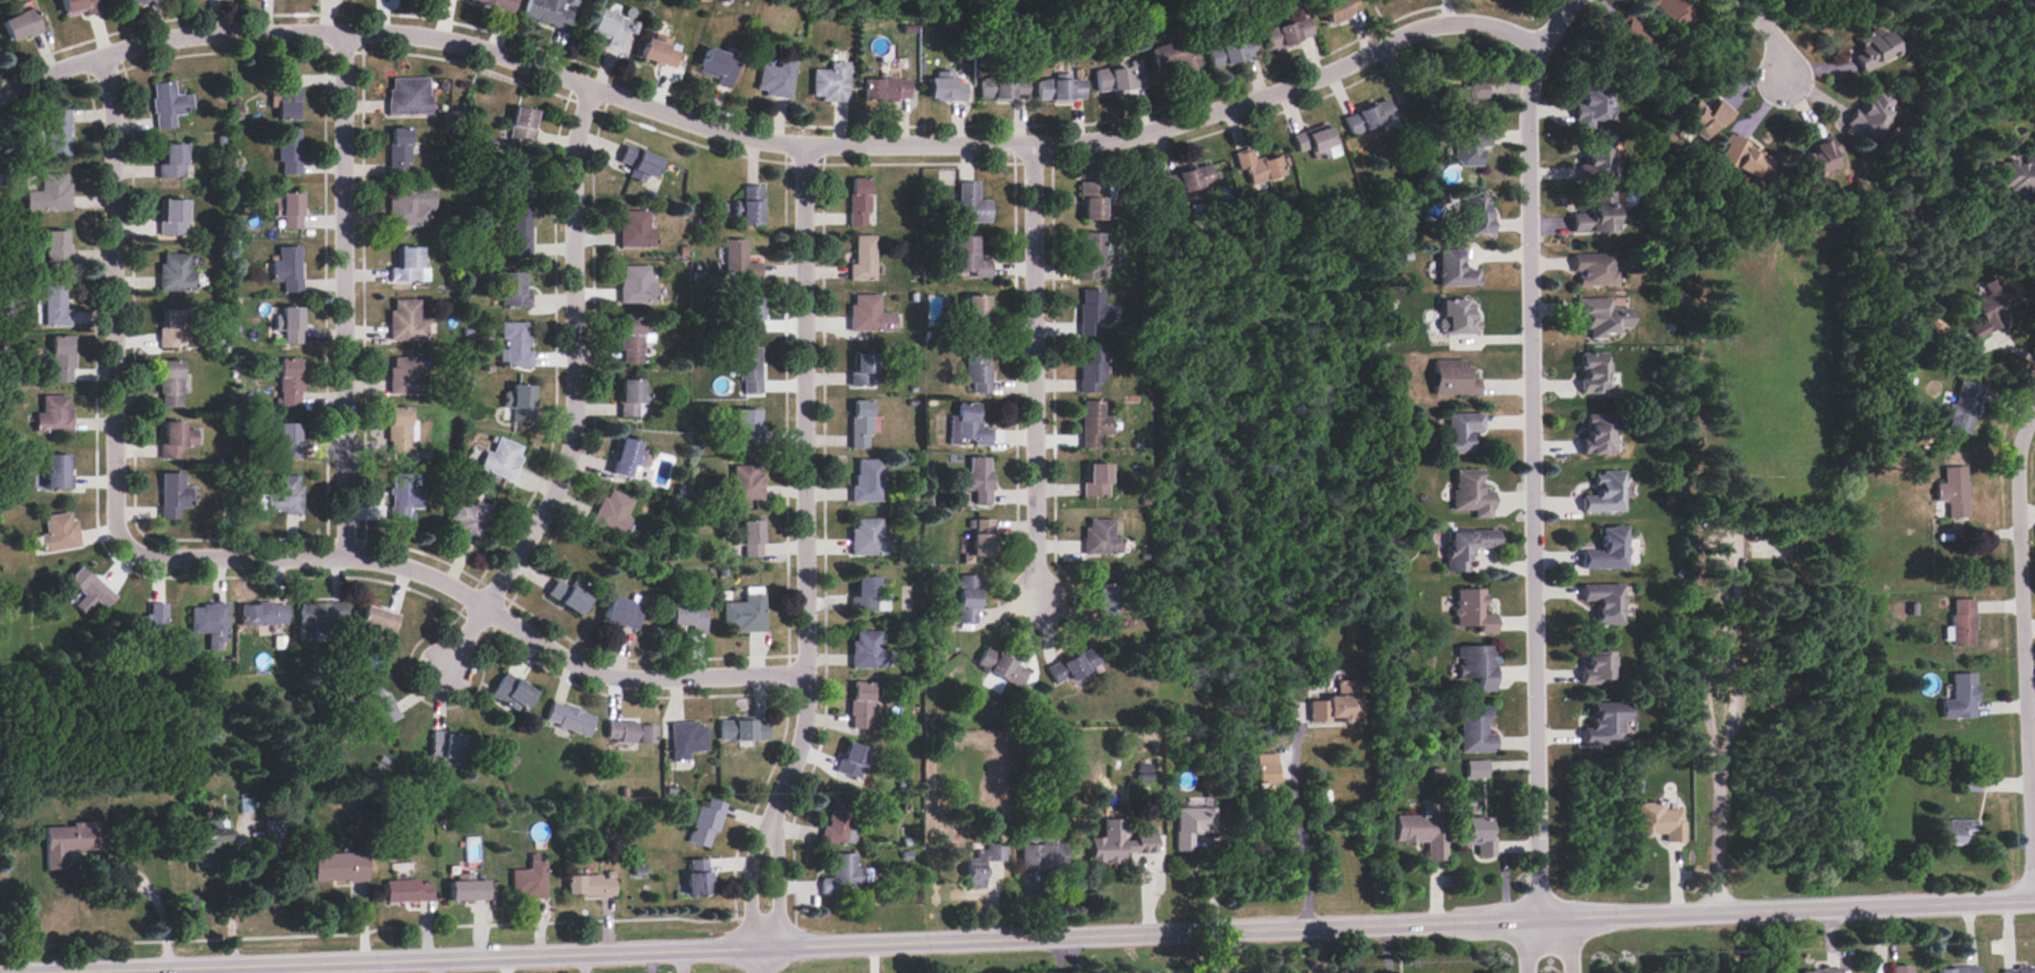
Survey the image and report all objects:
building: (130, 2)
building: (495, 4)
building: (78, 7)
building: (1337, 9)
building: (545, 13)
building: (1676, 13)
building: (20, 26)
road: (2026, 26)
building: (608, 29)
building: (1286, 34)
building: (1632, 36)
road: (1770, 37)
building: (1873, 49)
building: (658, 53)
building: (1231, 53)
building: (1174, 60)
building: (717, 65)
building: (775, 80)
building: (1115, 81)
building: (830, 84)
building: (1005, 87)
building: (944, 89)
building: (886, 90)
building: (1060, 90)
building: (408, 96)
building: (287, 97)
building: (1462, 97)
building: (164, 103)
building: (1591, 104)
building: (1868, 114)
building: (1370, 118)
building: (1704, 120)
building: (520, 124)
building: (58, 134)
building: (1314, 142)
road: (798, 145)
building: (1468, 146)
building: (288, 152)
building: (398, 152)
building: (1742, 158)
building: (1817, 158)
building: (171, 162)
building: (1596, 162)
building: (638, 164)
building: (1259, 169)
building: (2018, 174)
building: (1189, 181)
building: (512, 182)
building: (49, 194)
building: (859, 202)
building: (1092, 202)
building: (972, 205)
building: (750, 206)
building: (285, 207)
building: (411, 208)
building: (1596, 215)
building: (1474, 216)
building: (172, 218)
building: (635, 230)
building: (519, 234)
building: (55, 247)
building: (1091, 257)
building: (969, 258)
building: (863, 259)
building: (738, 262)
building: (407, 266)
building: (286, 269)
building: (1454, 269)
building: (1594, 271)
building: (174, 273)
building: (636, 286)
building: (512, 291)
road: (344, 295)
building: (55, 305)
building: (1992, 308)
building: (1092, 313)
building: (868, 315)
building: (751, 316)
building: (976, 316)
building: (1458, 317)
building: (1603, 318)
building: (405, 321)
building: (288, 325)
building: (173, 329)
building: (632, 341)
road: (2004, 343)
building: (514, 346)
building: (61, 360)
building: (976, 369)
building: (1092, 370)
building: (749, 371)
building: (863, 371)
building: (1595, 374)
building: (406, 376)
building: (1454, 379)
road: (1035, 382)
building: (289, 383)
building: (170, 384)
road: (575, 396)
building: (630, 398)
building: (518, 403)
building: (1963, 408)
building: (53, 416)
building: (861, 424)
building: (1095, 425)
building: (748, 427)
building: (967, 428)
building: (398, 432)
building: (1461, 432)
building: (1599, 435)
building: (174, 440)
building: (287, 441)
building: (501, 459)
building: (627, 459)
building: (57, 472)
building: (978, 480)
building: (867, 481)
building: (1096, 481)
road: (1533, 481)
building: (745, 483)
road: (805, 491)
building: (1953, 492)
building: (1472, 493)
building: (1606, 493)
building: (172, 495)
building: (404, 496)
building: (281, 497)
building: (611, 513)
building: (468, 519)
building: (59, 534)
building: (867, 538)
building: (1100, 538)
building: (750, 540)
building: (979, 541)
park: (1762, 544)
building: (1466, 548)
building: (1608, 551)
road: (232, 558)
building: (90, 588)
building: (868, 595)
building: (567, 598)
building: (968, 600)
building: (1107, 603)
building: (1604, 603)
building: (1472, 612)
building: (262, 614)
building: (622, 614)
building: (744, 614)
building: (687, 617)
building: (321, 618)
building: (150, 622)
building: (376, 623)
building: (1963, 623)
building: (210, 624)
building: (867, 651)
road: (2024, 653)
building: (1477, 666)
building: (1074, 667)
building: (1596, 668)
building: (1002, 669)
building: (512, 694)
building: (1961, 698)
building: (1336, 704)
building: (862, 707)
building: (376, 709)
building: (569, 719)
road: (1731, 719)
building: (1606, 726)
building: (742, 731)
building: (1476, 731)
building: (630, 733)
building: (687, 739)
building: (445, 747)
building: (852, 761)
building: (1264, 767)
building: (1476, 770)
building: (1143, 771)
building: (1971, 785)
building: (245, 806)
building: (1656, 820)
building: (837, 823)
building: (704, 824)
building: (1192, 826)
road: (1297, 828)
building: (1956, 832)
building: (1417, 833)
building: (1476, 835)
building: (274, 837)
building: (65, 841)
building: (1119, 844)
building: (203, 845)
building: (1043, 858)
building: (336, 866)
building: (982, 866)
road: (135, 871)
building: (844, 877)
building: (693, 878)
building: (526, 881)
building: (587, 885)
road: (747, 888)
building: (405, 889)
building: (464, 889)
road: (775, 892)
road: (229, 900)
road: (1021, 937)
road: (1563, 941)
road: (1530, 943)
road: (761, 960)
road: (211, 969)
building: (1897, 969)
building: (1958, 969)
building: (2020, 969)
building: (1823, 970)

